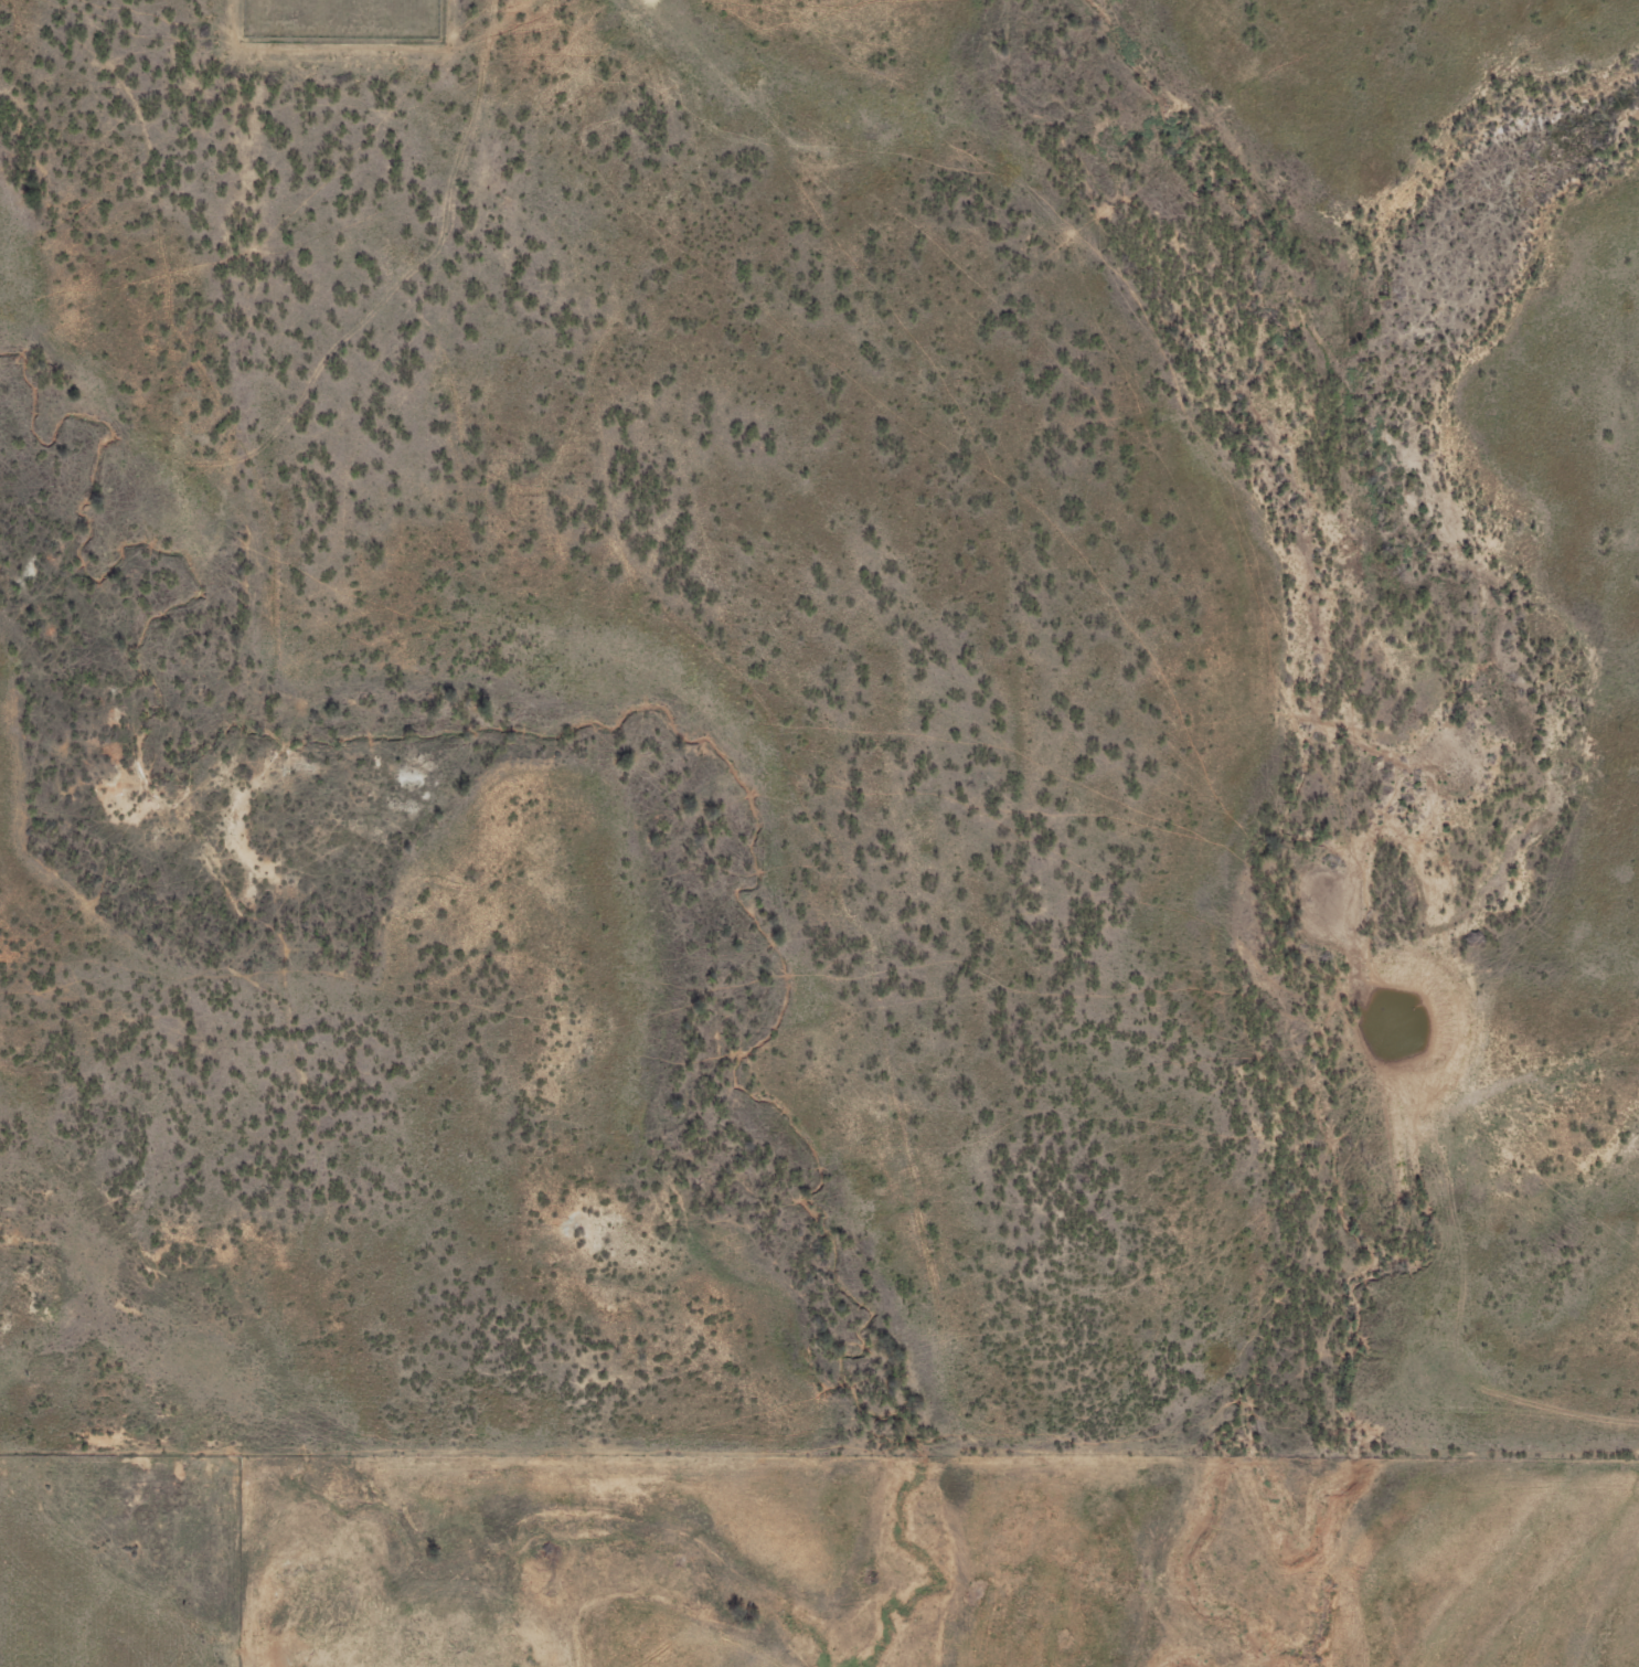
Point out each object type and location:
park: (340, 19)

